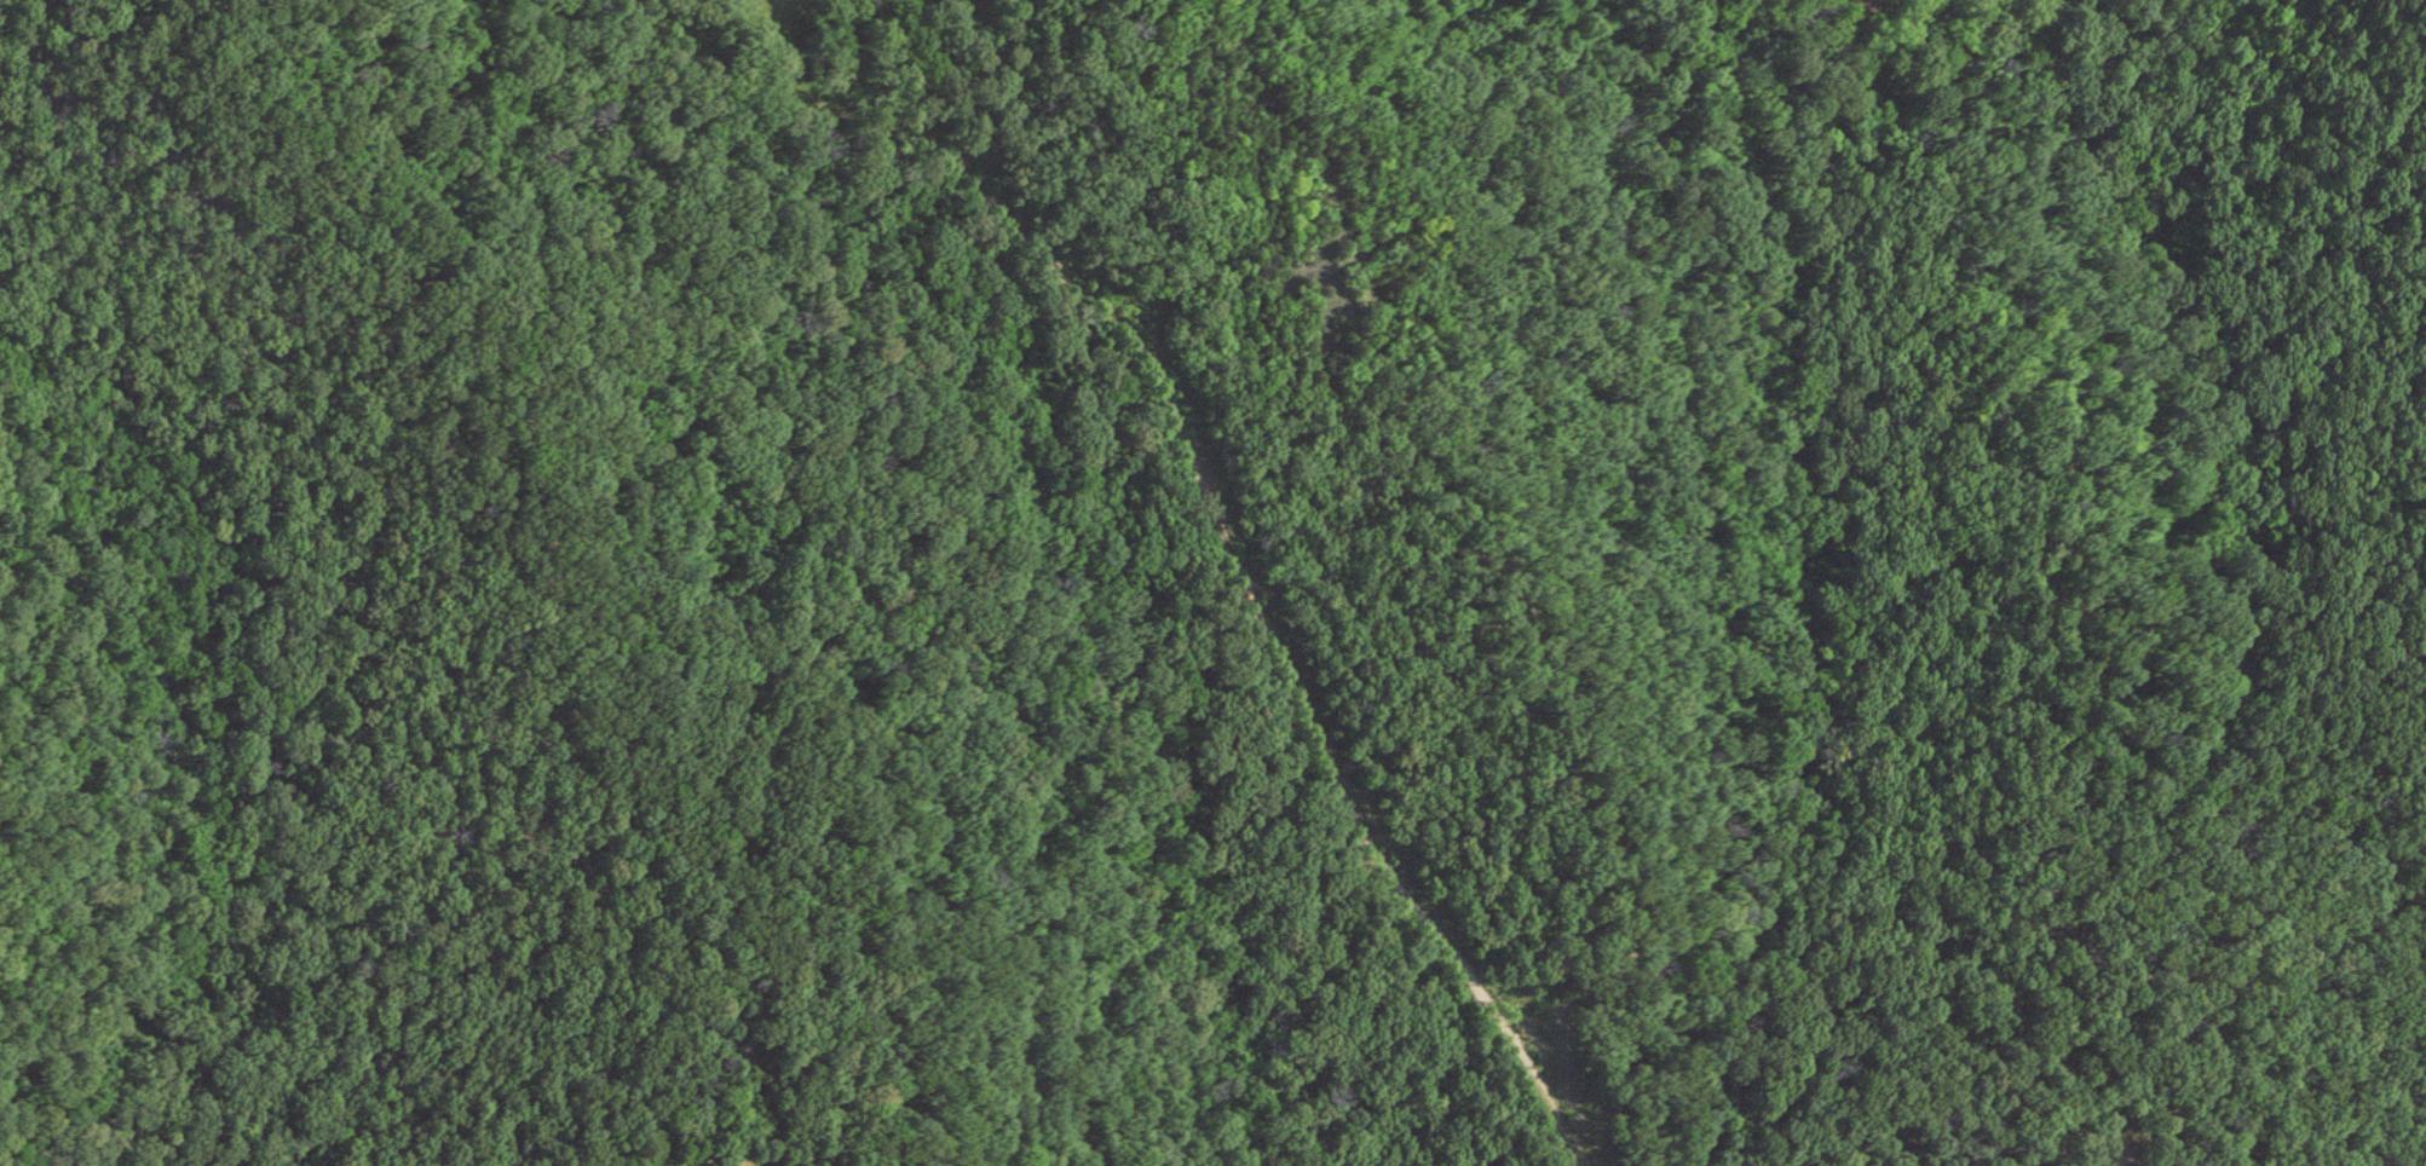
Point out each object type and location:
road: (1240, 518)

